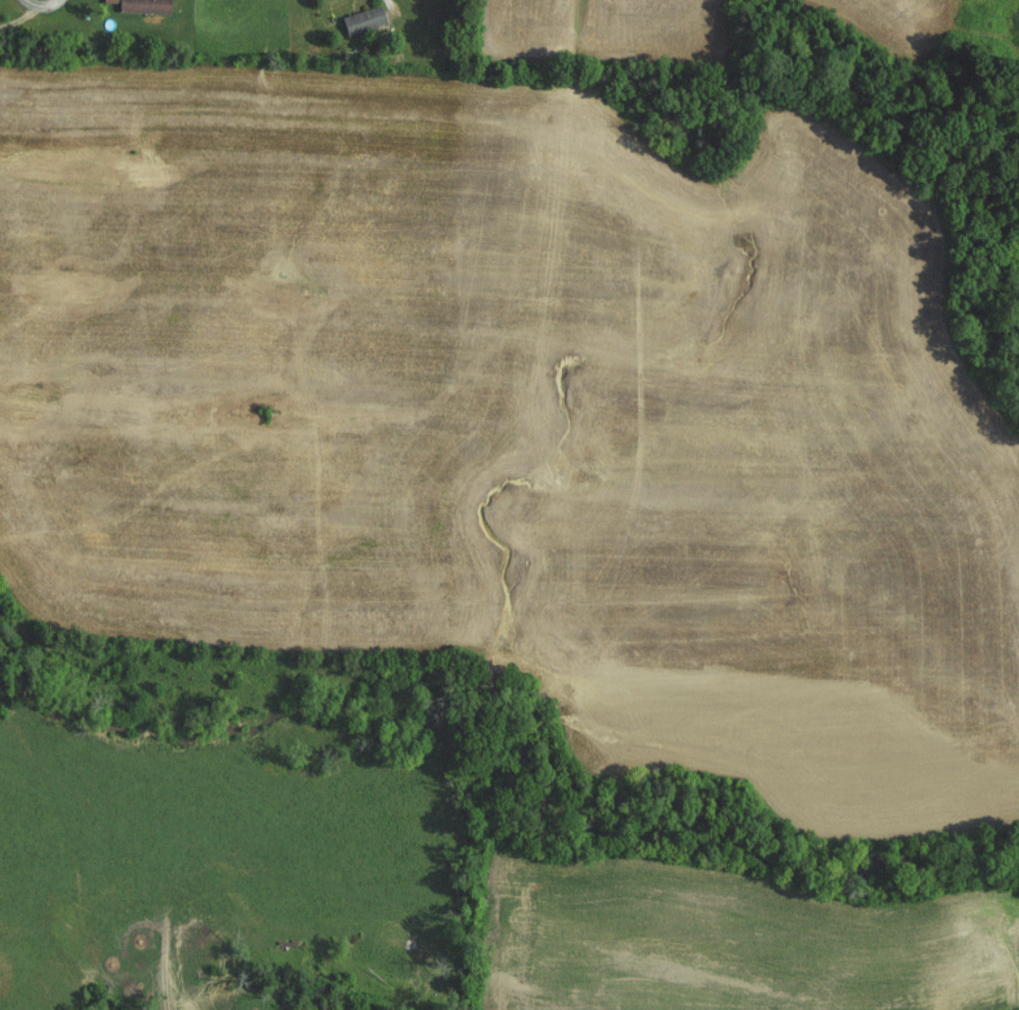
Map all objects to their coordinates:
road: (41, 5)
building: (143, 5)
building: (363, 19)

